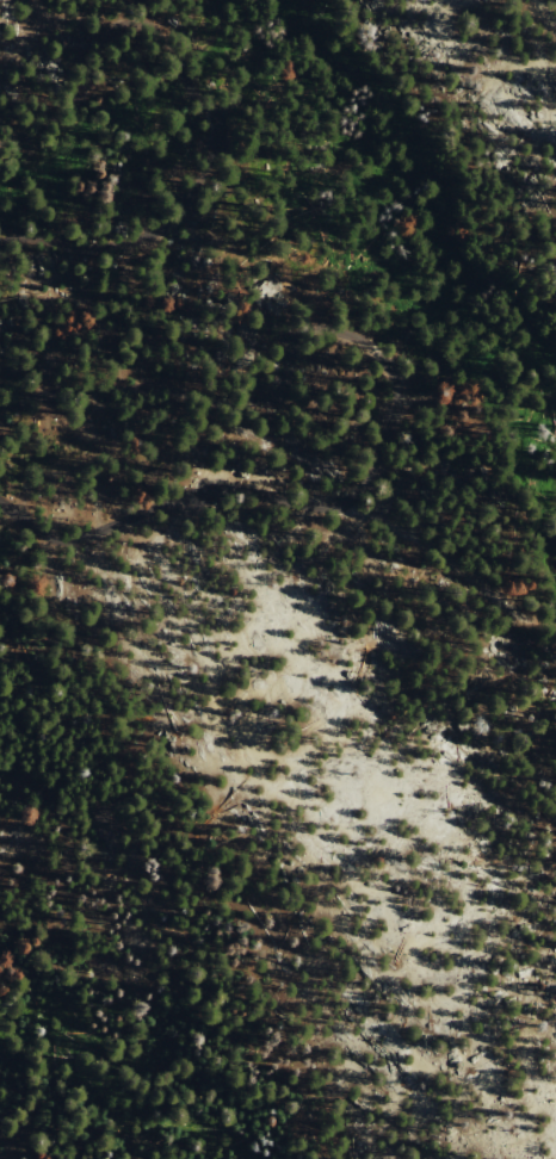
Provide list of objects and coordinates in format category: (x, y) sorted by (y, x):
road: (91, 69)
road: (181, 74)
road: (161, 224)
building: (142, 274)
road: (284, 377)
building: (150, 475)
road: (171, 500)
parking lot: (187, 509)
road: (455, 576)
road: (555, 628)

